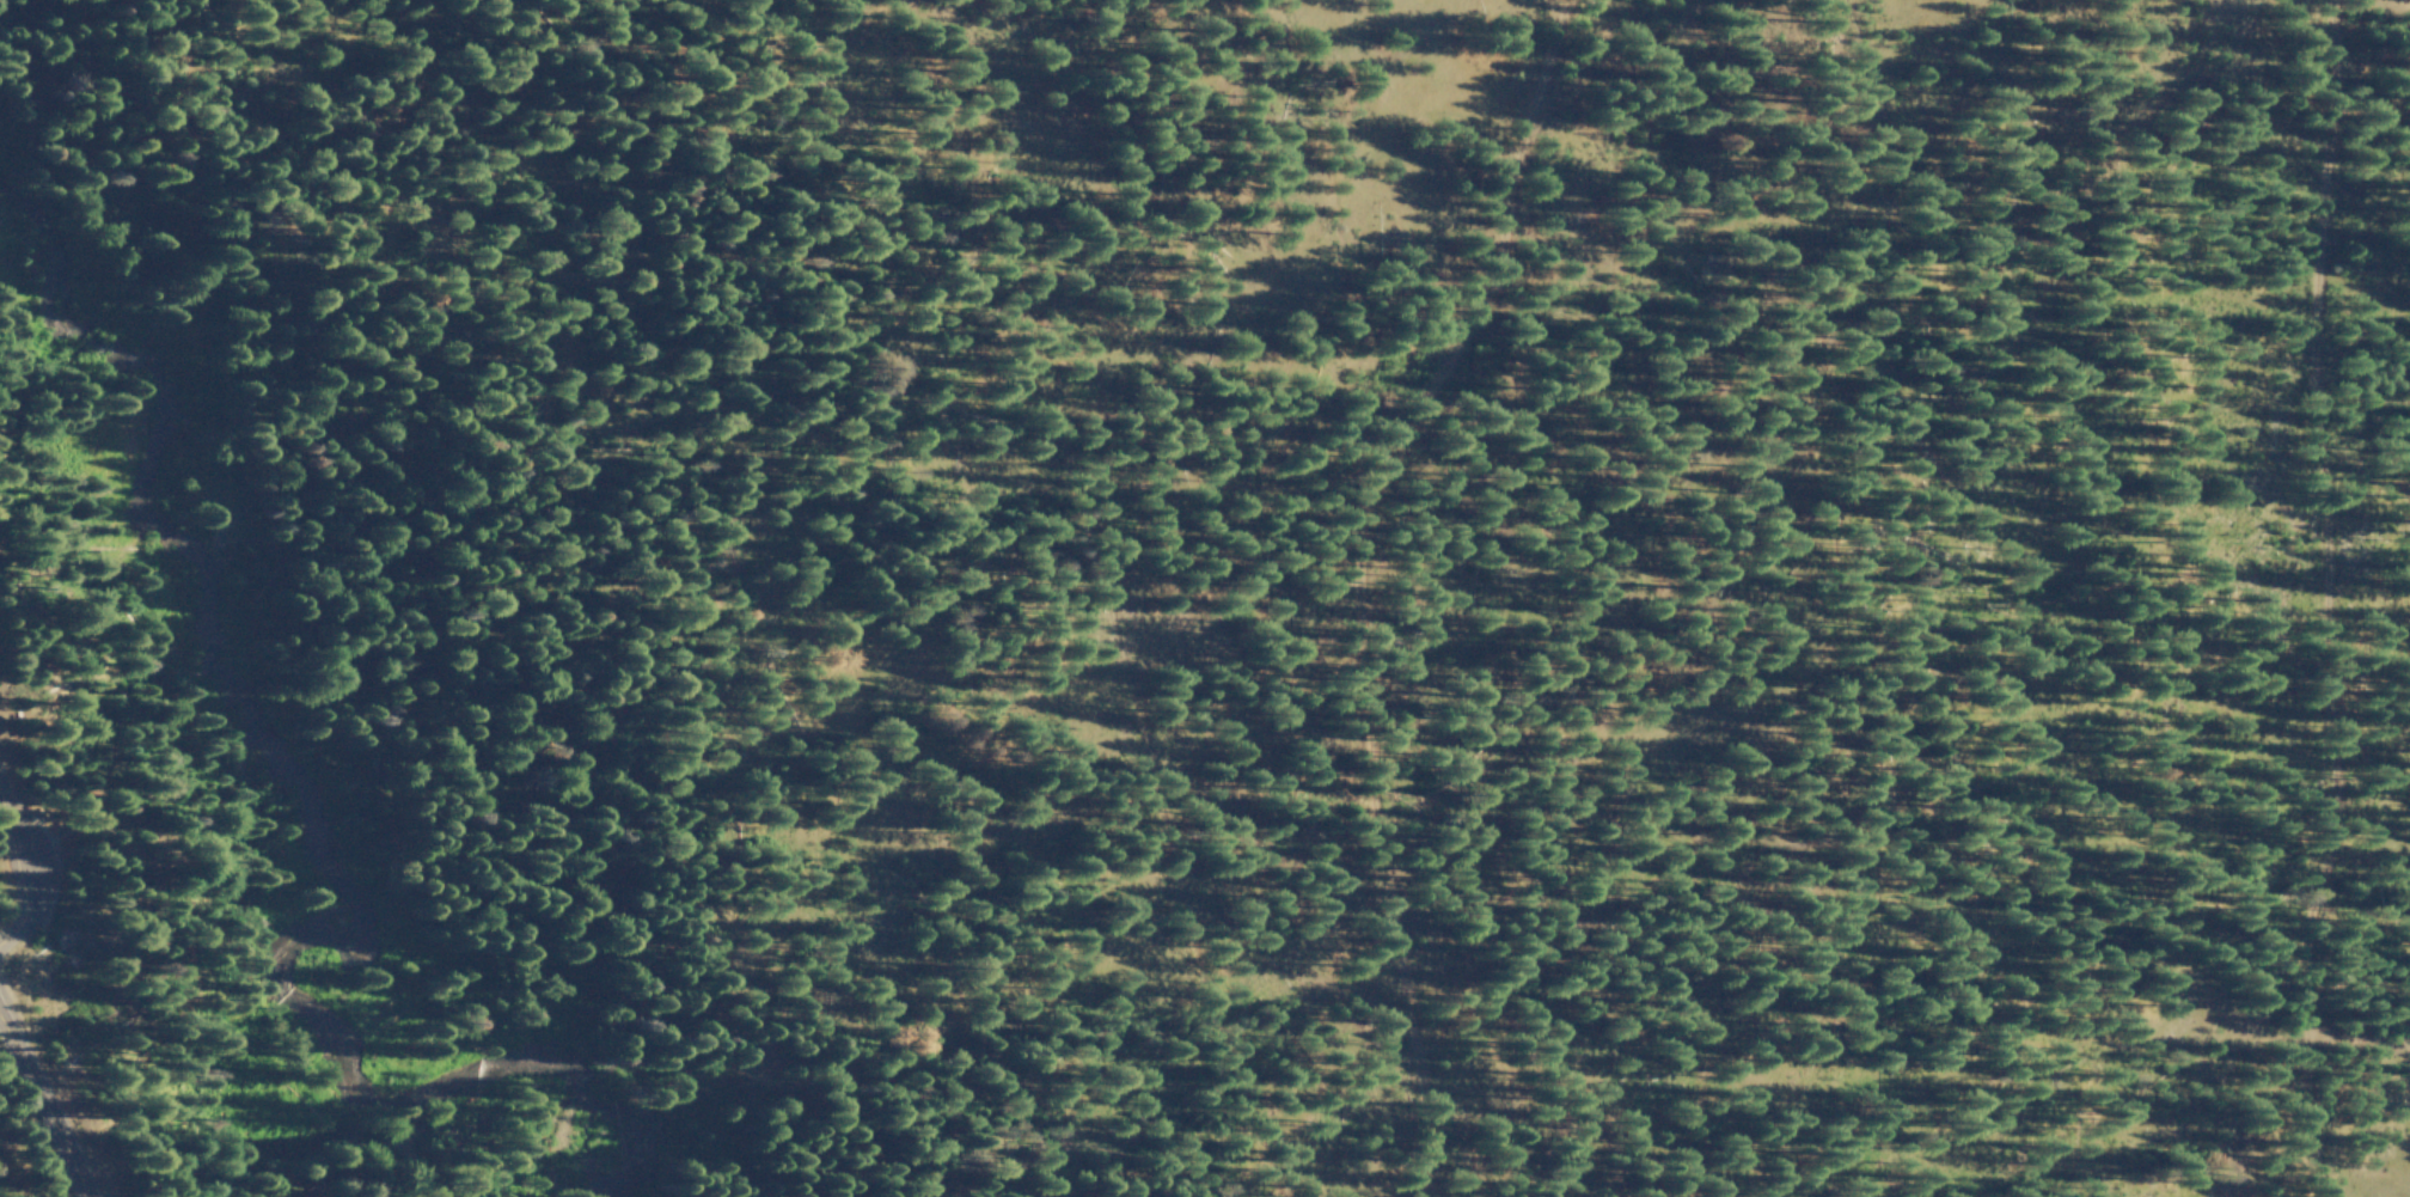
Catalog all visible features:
road: (19, 868)
road: (45, 1106)

